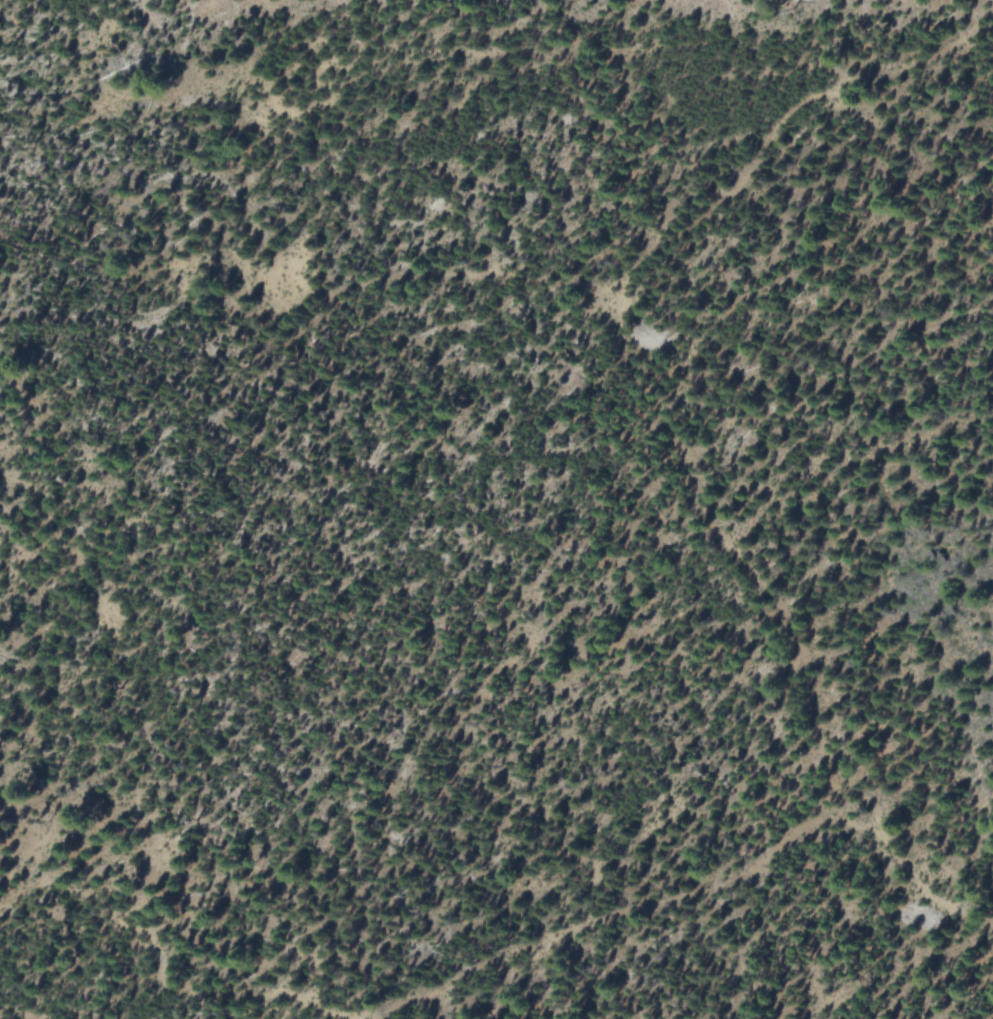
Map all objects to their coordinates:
road: (662, 464)

